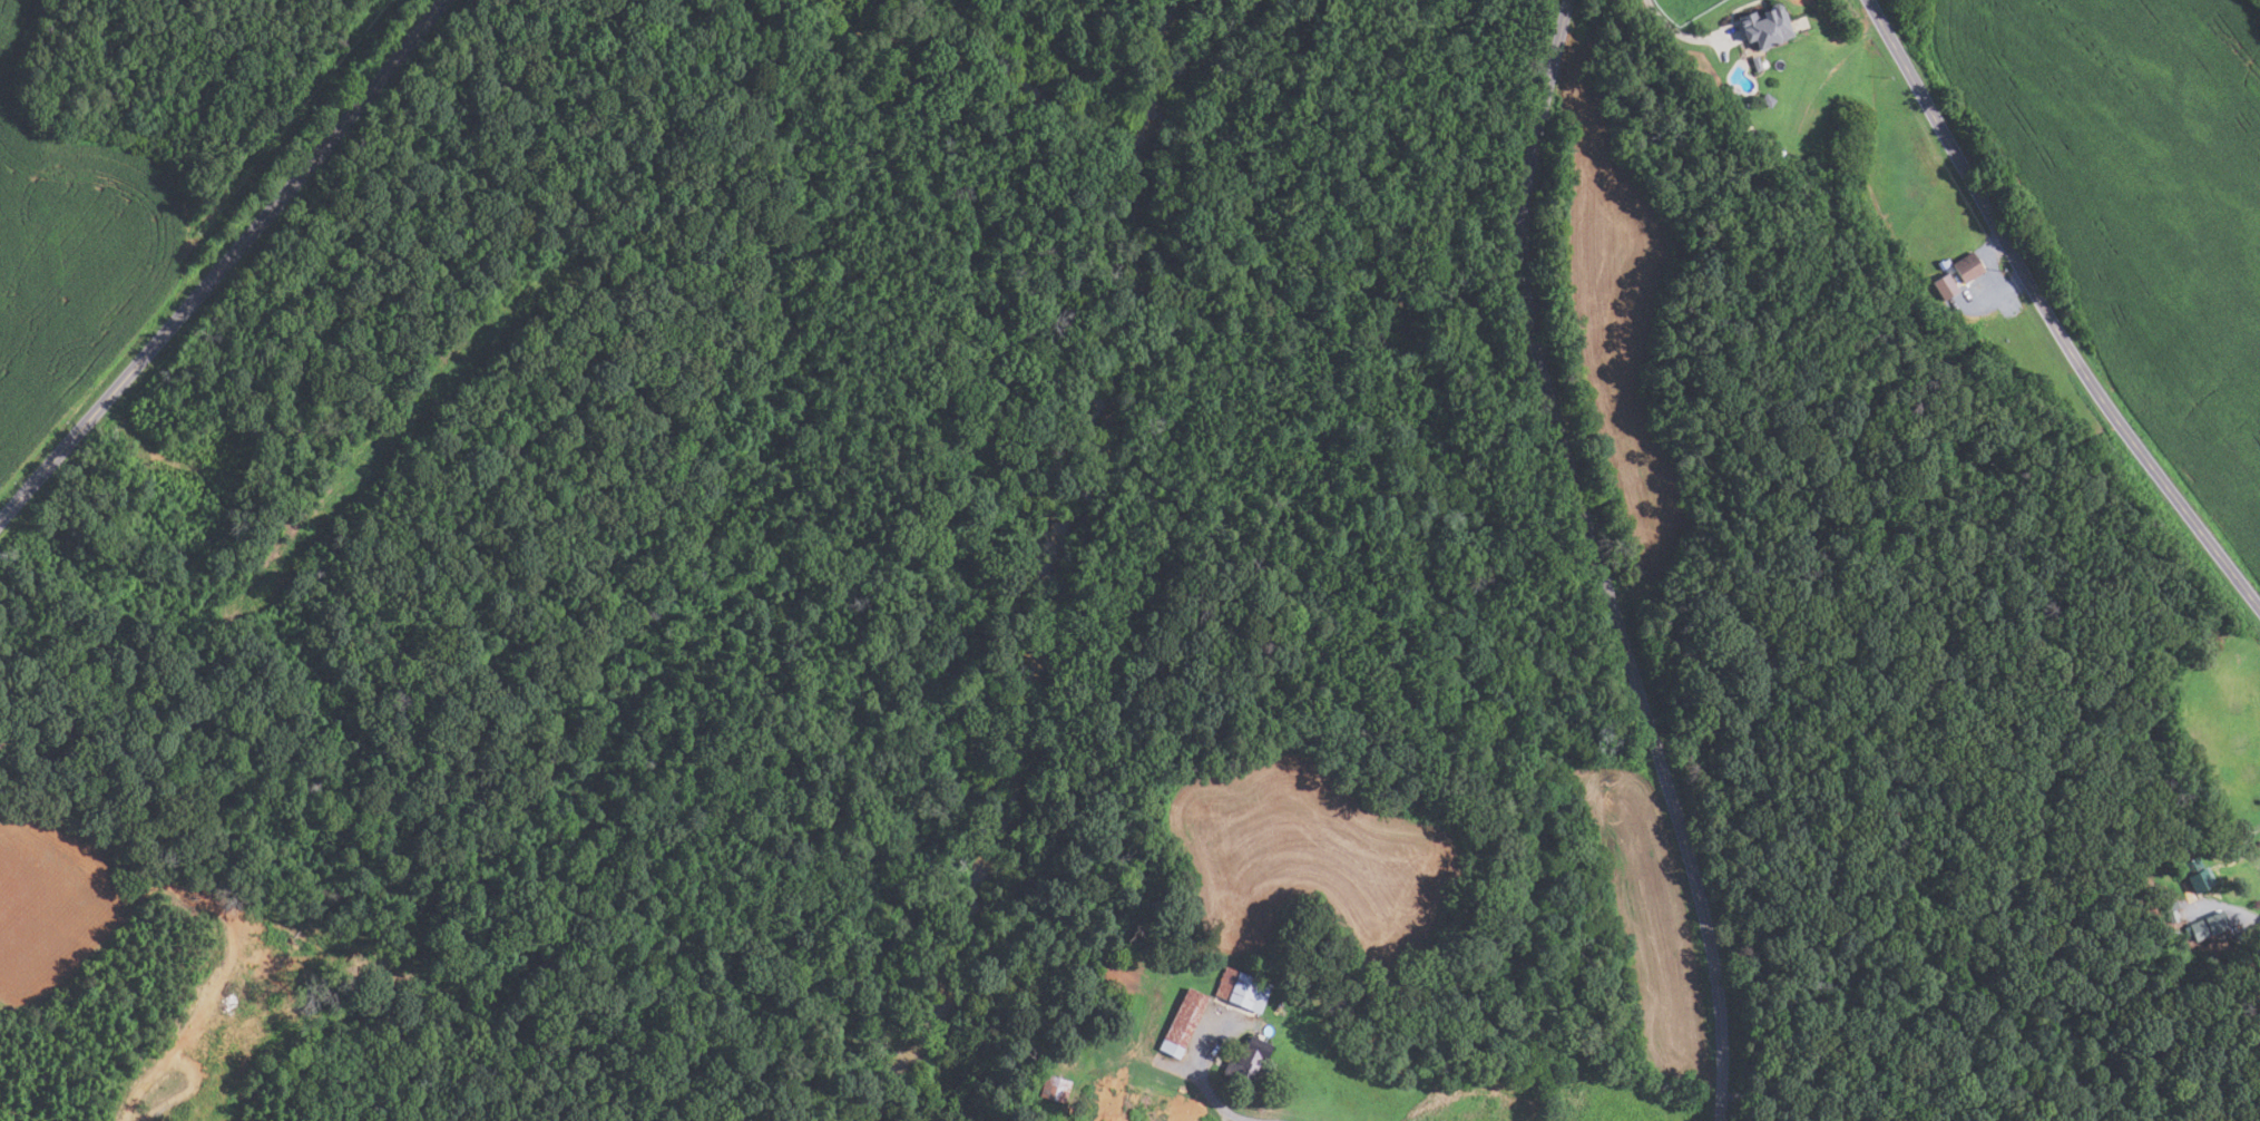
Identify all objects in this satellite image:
building: (1765, 27)
road: (1671, 28)
building: (1755, 64)
building: (1767, 99)
building: (1742, 130)
crop: (2140, 203)
crop: (72, 262)
road: (226, 263)
building: (1967, 267)
building: (1950, 269)
building: (1946, 272)
road: (2003, 292)
road: (2048, 313)
crop: (1617, 314)
road: (1599, 560)
building: (2197, 874)
building: (2169, 906)
building: (2172, 916)
building: (2207, 925)
building: (1241, 988)
building: (1182, 1022)
building: (1249, 1060)
building: (1054, 1089)
road: (1217, 1092)
road: (1767, 1101)

